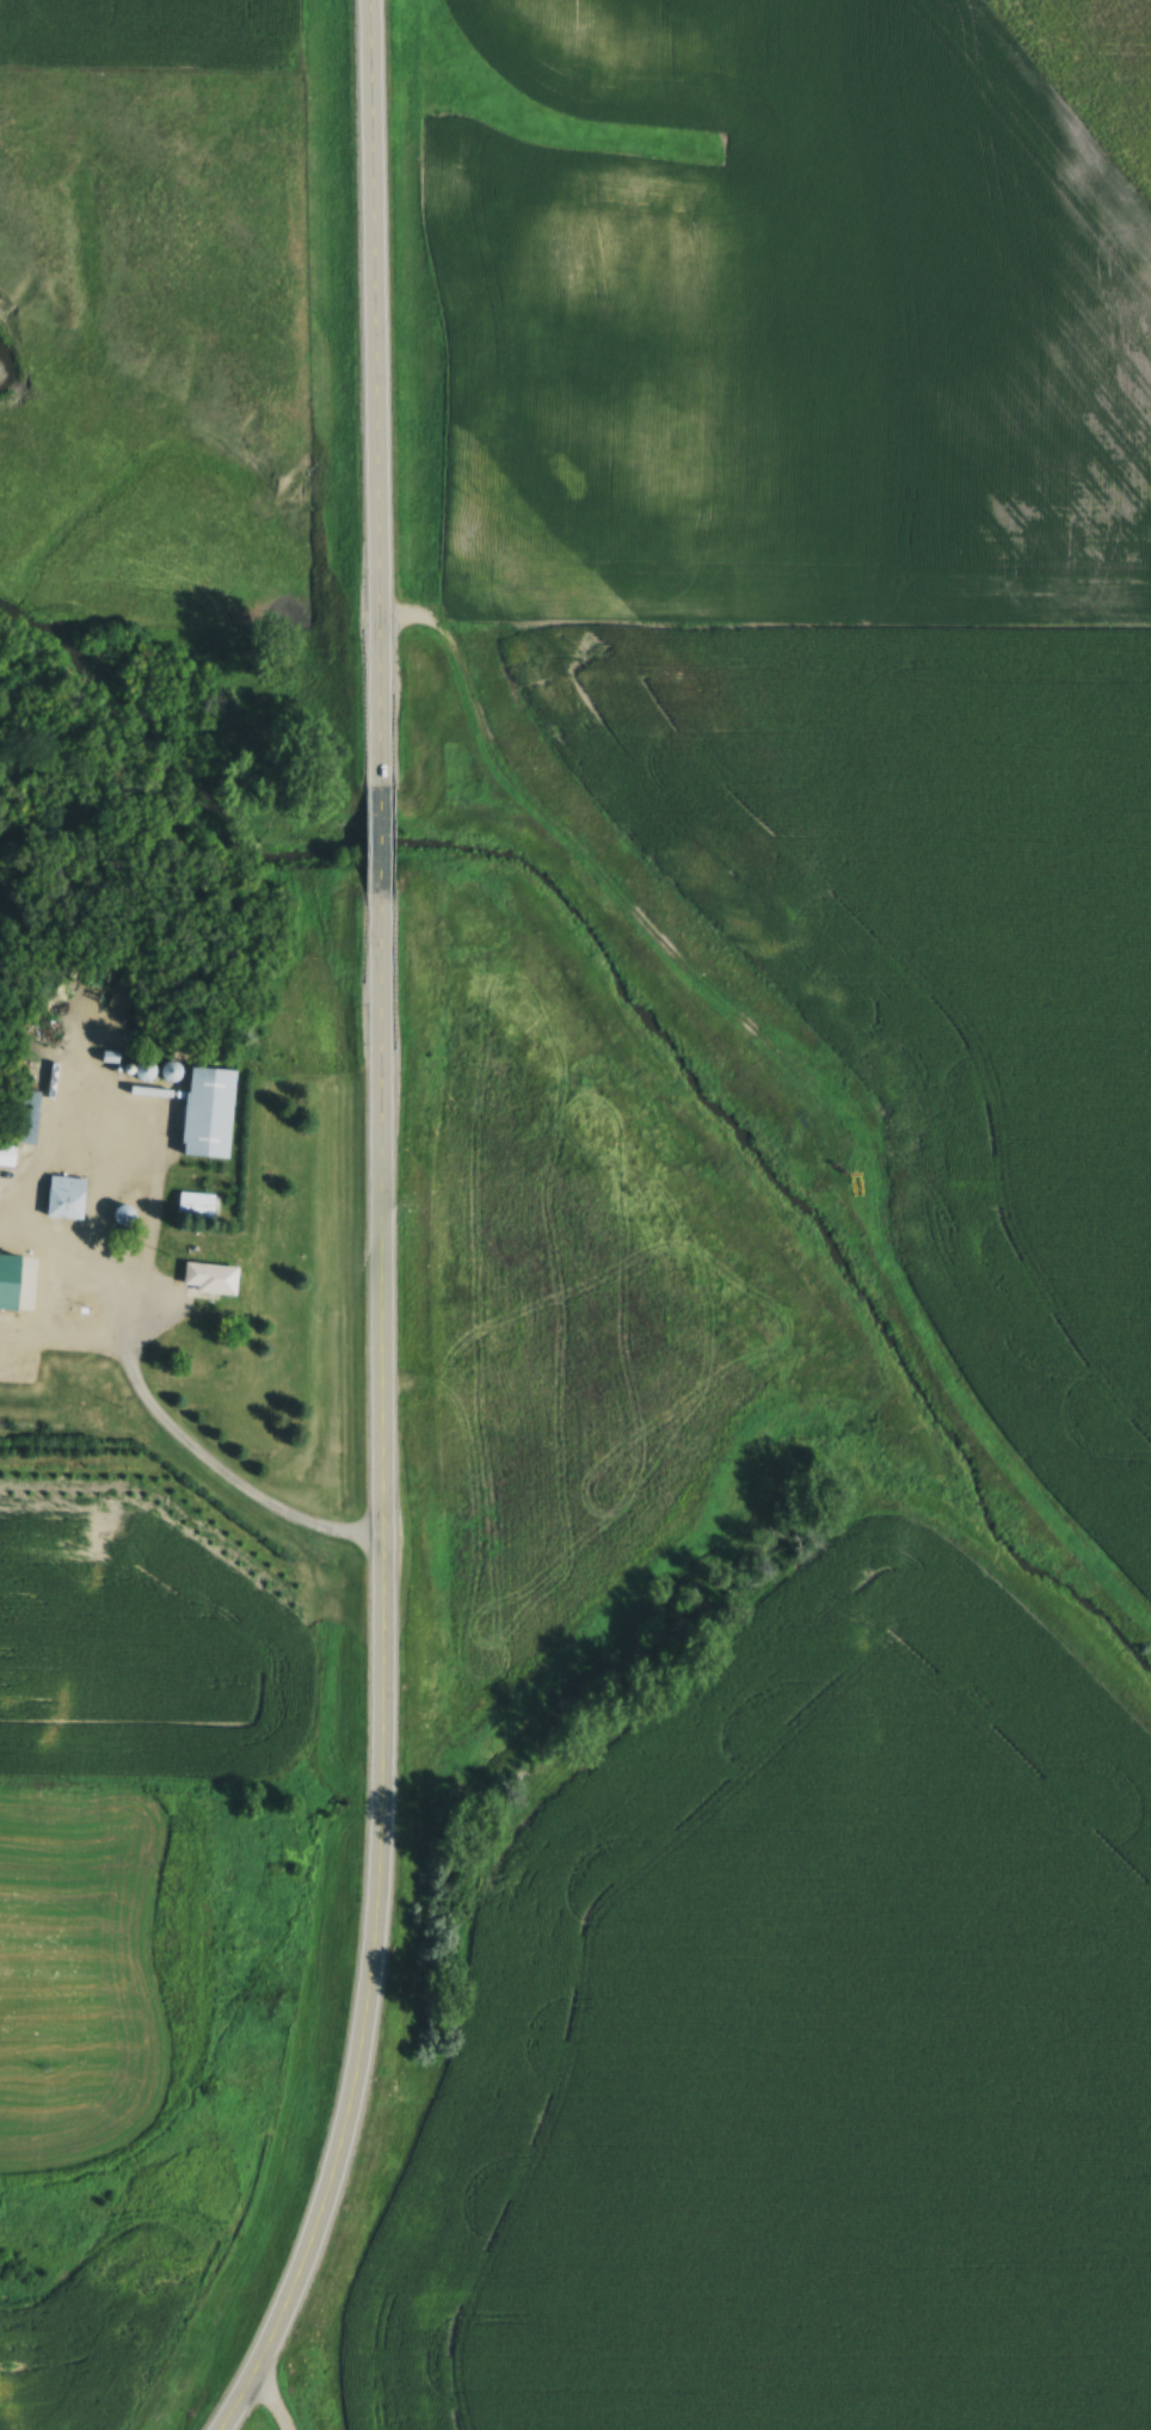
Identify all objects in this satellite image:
road: (373, 393)
road: (381, 842)
building: (170, 1072)
building: (210, 1113)
building: (31, 1118)
building: (7, 1155)
building: (67, 1199)
building: (10, 1266)
building: (211, 1279)
road: (384, 1674)
road: (361, 2247)

